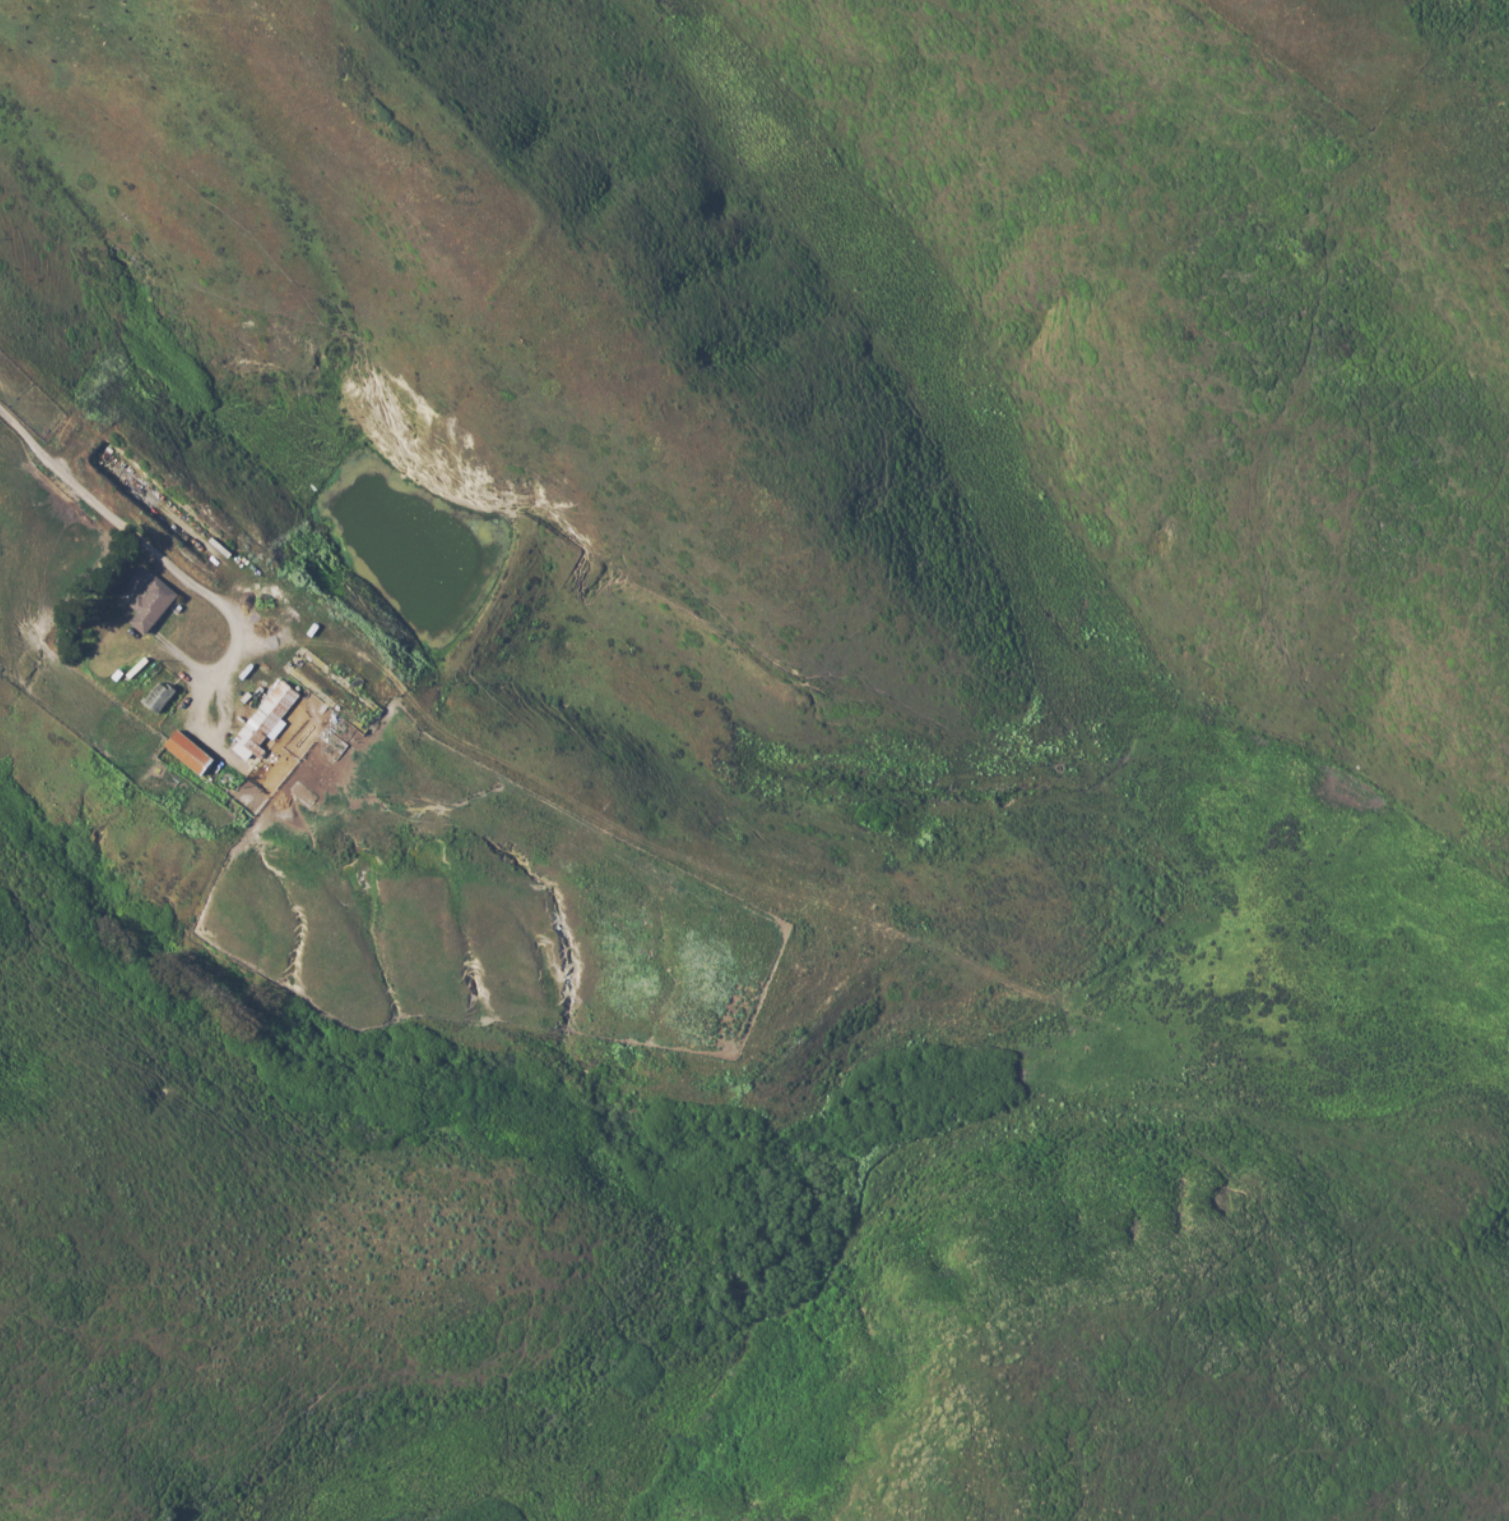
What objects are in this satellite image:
road: (112, 515)
building: (150, 605)
building: (188, 752)

